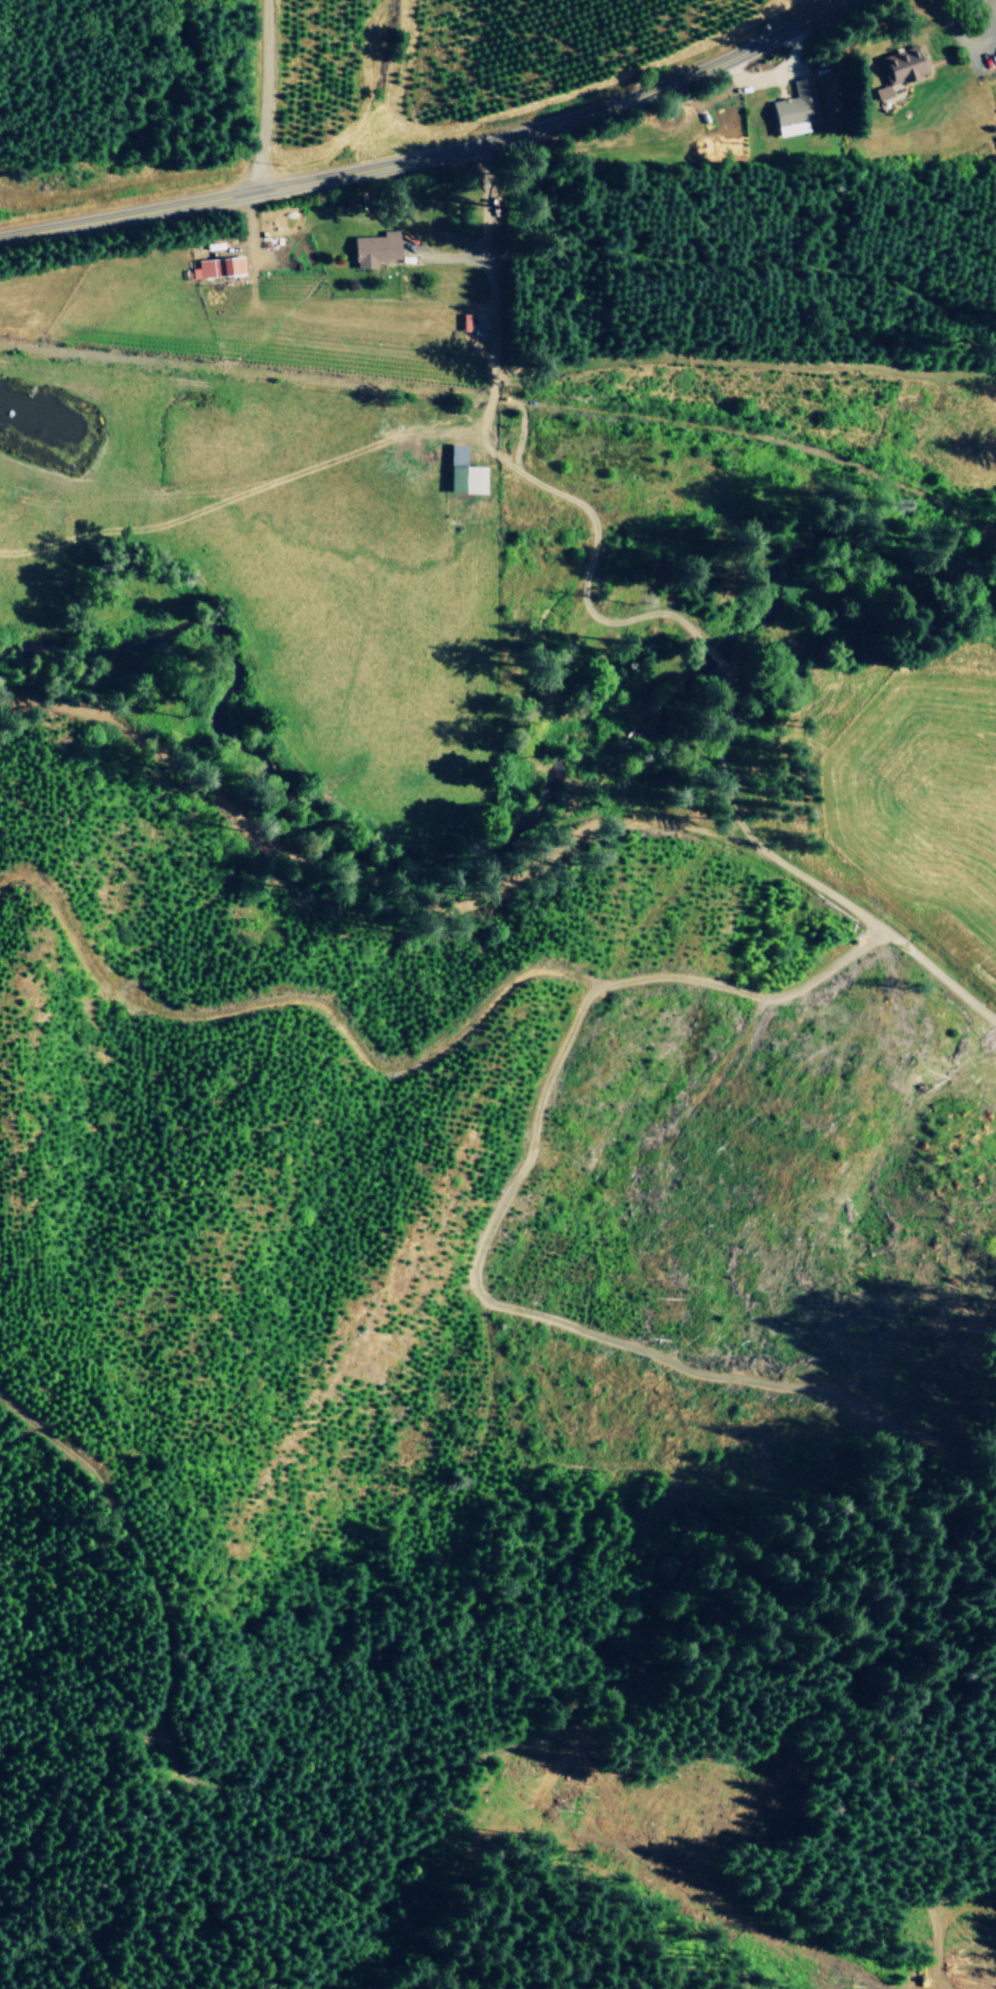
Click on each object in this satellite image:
building: (899, 69)
crop: (626, 78)
road: (265, 95)
building: (796, 108)
road: (429, 154)
building: (375, 248)
building: (215, 267)
railway: (508, 402)
building: (465, 473)

